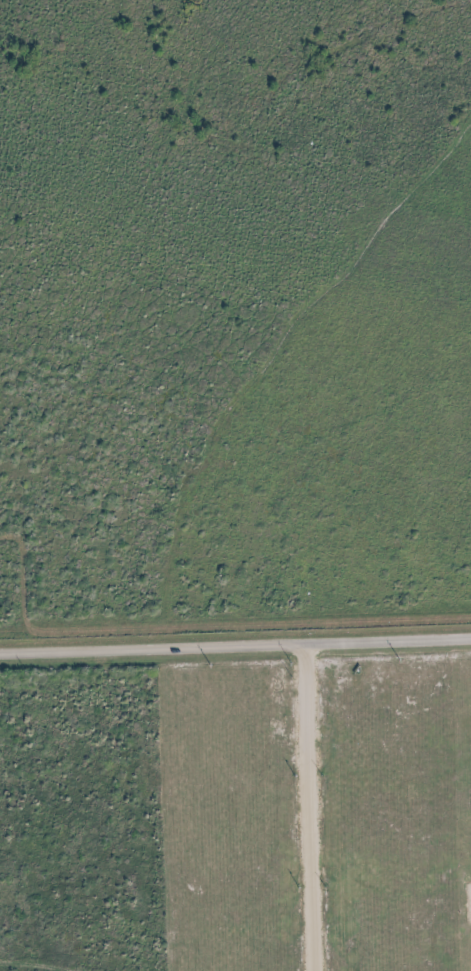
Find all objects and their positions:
road: (235, 646)

